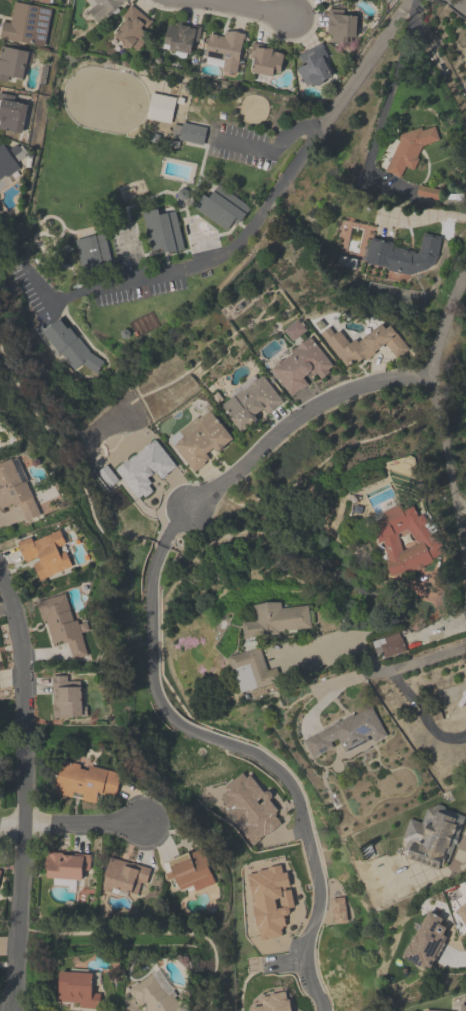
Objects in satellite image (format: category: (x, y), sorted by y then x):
building: (46, 0)
building: (124, 0)
building: (324, 0)
road: (459, 5)
building: (101, 7)
road: (255, 9)
building: (26, 23)
building: (340, 24)
building: (132, 28)
building: (180, 35)
building: (223, 49)
building: (265, 59)
building: (12, 62)
building: (312, 64)
building: (465, 78)
building: (465, 82)
road: (345, 89)
building: (160, 107)
building: (11, 112)
building: (188, 132)
building: (409, 148)
road: (267, 149)
building: (7, 163)
building: (1, 185)
building: (221, 206)
road: (432, 215)
building: (161, 230)
building: (92, 251)
building: (402, 254)
road: (164, 272)
building: (364, 343)
building: (69, 346)
building: (300, 365)
building: (250, 402)
road: (300, 412)
road: (440, 422)
building: (199, 438)
building: (144, 467)
building: (15, 490)
road: (176, 523)
building: (406, 538)
building: (45, 552)
road: (6, 611)
road: (13, 616)
building: (275, 618)
building: (62, 623)
building: (386, 645)
road: (340, 646)
road: (418, 660)
building: (251, 667)
road: (336, 687)
building: (66, 697)
road: (418, 718)
building: (345, 732)
road: (239, 746)
building: (85, 779)
building: (249, 806)
road: (72, 821)
road: (22, 833)
building: (431, 835)
road: (465, 846)
building: (65, 864)
building: (188, 870)
building: (0, 871)
building: (123, 876)
building: (269, 899)
building: (337, 909)
building: (462, 913)
building: (426, 941)
road: (453, 956)
building: (76, 988)
road: (312, 990)
building: (155, 996)
building: (273, 1002)
building: (460, 1008)
building: (426, 1010)

